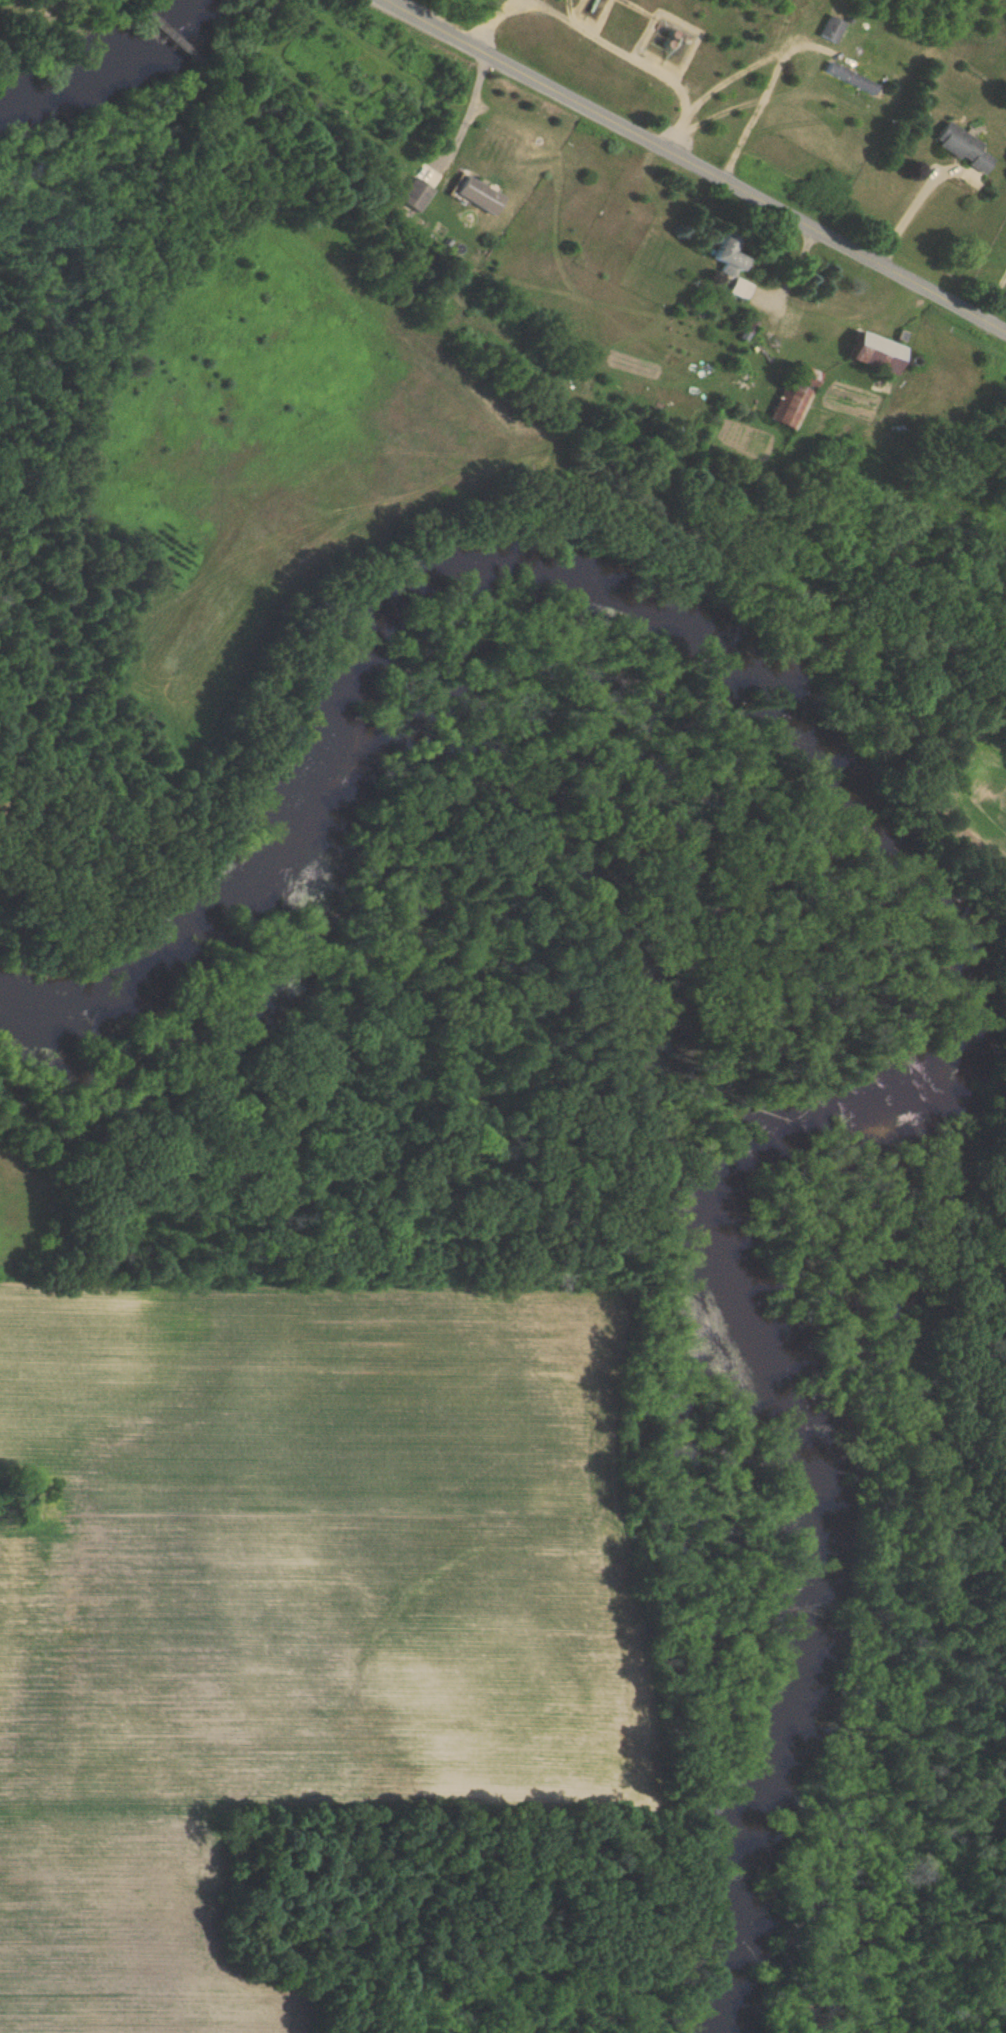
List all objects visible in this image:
building: (833, 29)
road: (606, 39)
river: (117, 62)
building: (839, 71)
road: (756, 90)
road: (472, 111)
building: (963, 146)
road: (696, 165)
building: (416, 194)
building: (476, 195)
road: (902, 204)
building: (731, 265)
road: (990, 283)
building: (871, 353)
building: (796, 396)
river: (952, 919)
park: (133, 1070)

